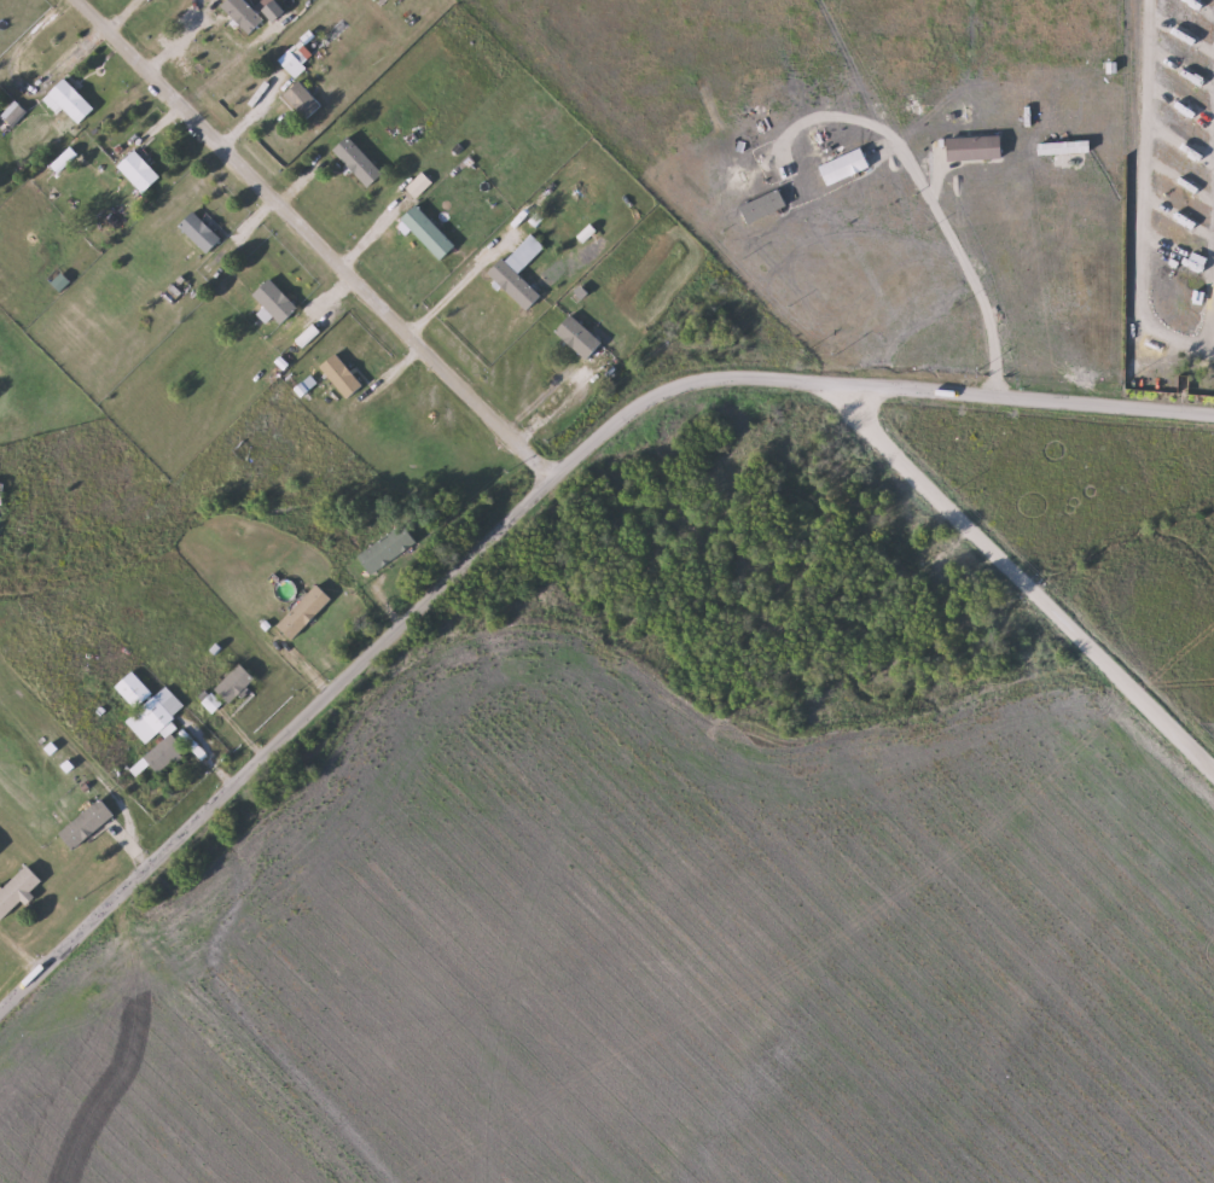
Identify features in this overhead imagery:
building: (244, 14)
building: (278, 69)
building: (302, 99)
building: (70, 101)
building: (13, 113)
building: (139, 171)
building: (420, 186)
building: (201, 232)
building: (429, 232)
road: (314, 235)
road: (960, 252)
building: (519, 272)
road: (451, 292)
building: (275, 301)
road: (1213, 320)
building: (580, 337)
building: (342, 375)
building: (1, 494)
road: (525, 496)
building: (389, 548)
road: (1016, 588)
building: (306, 612)
building: (236, 683)
building: (135, 689)
building: (158, 729)
building: (87, 824)
building: (0, 850)
building: (18, 891)

